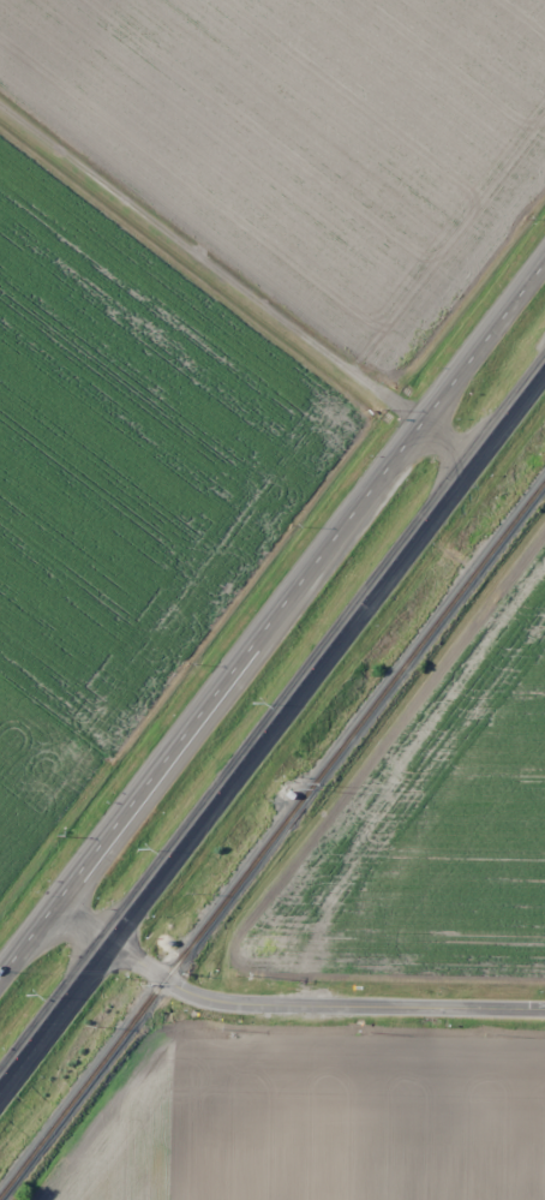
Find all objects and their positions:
road: (238, 282)
road: (271, 628)
road: (274, 740)
railway: (272, 836)
road: (289, 1005)

